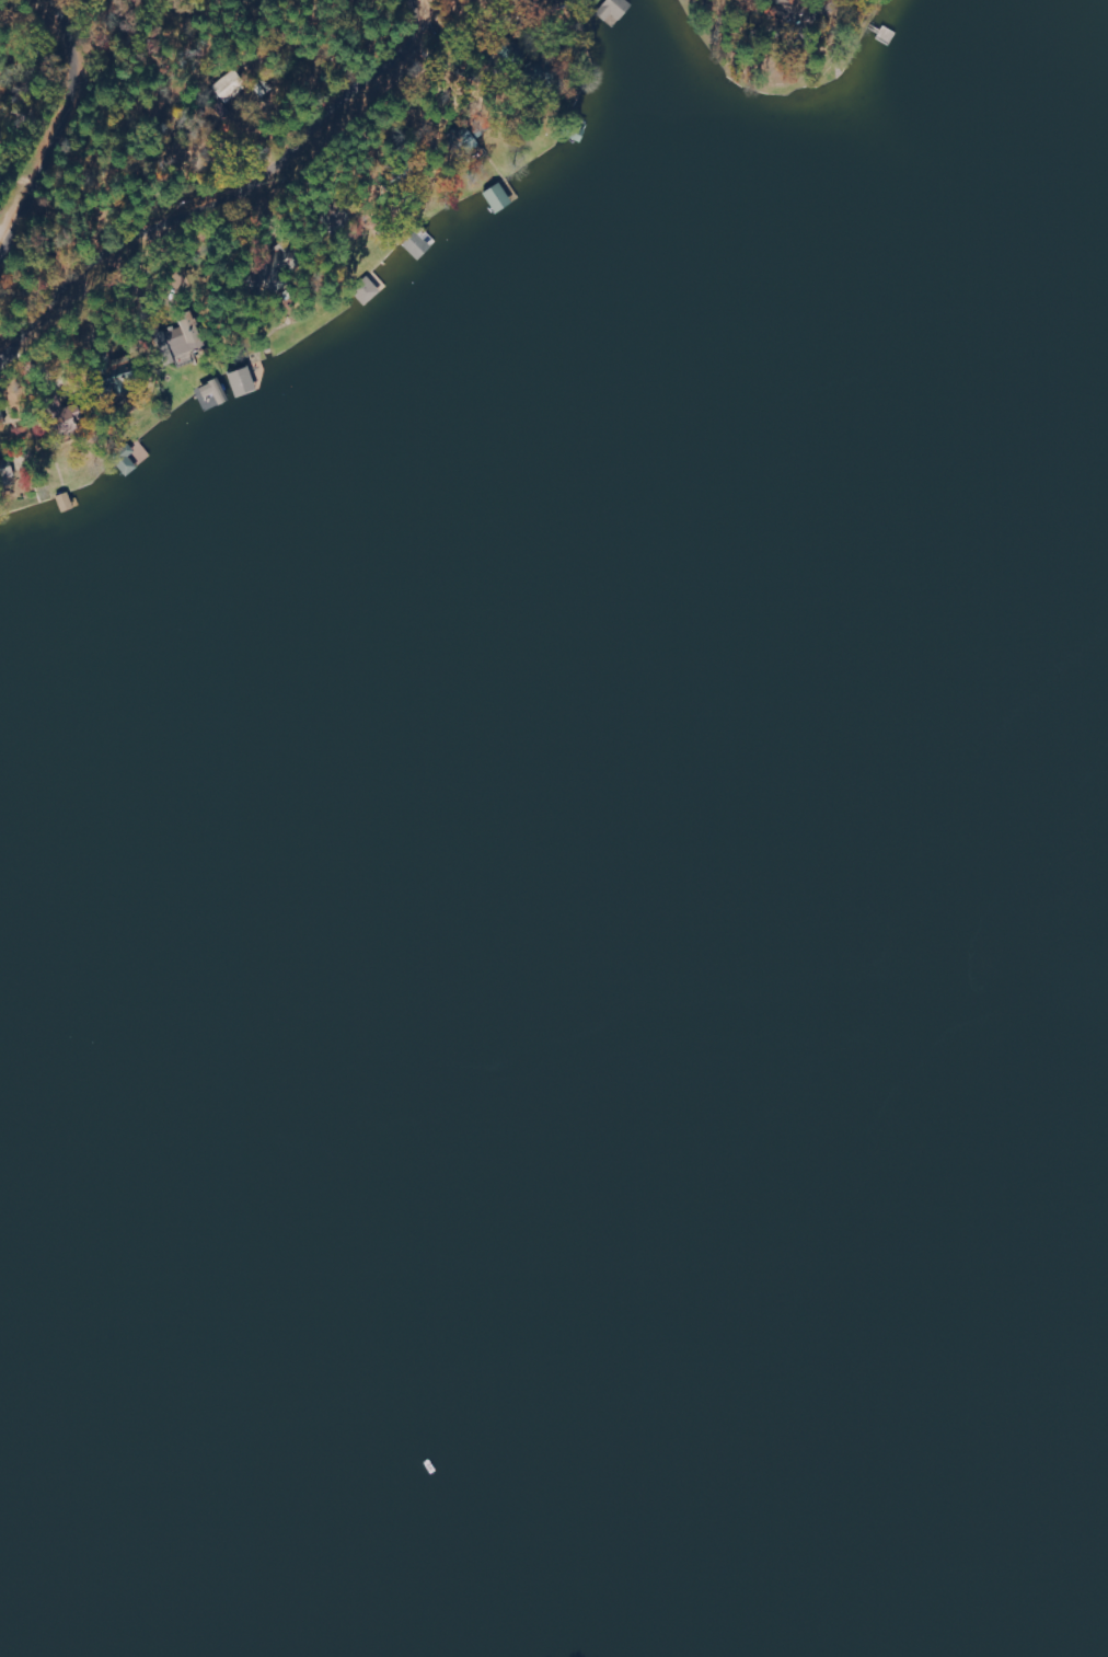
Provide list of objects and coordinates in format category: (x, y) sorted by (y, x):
building: (614, 11)
road: (722, 28)
road: (47, 41)
road: (86, 92)
road: (45, 115)
road: (233, 189)
building: (499, 198)
building: (368, 292)
building: (184, 340)
building: (244, 383)

